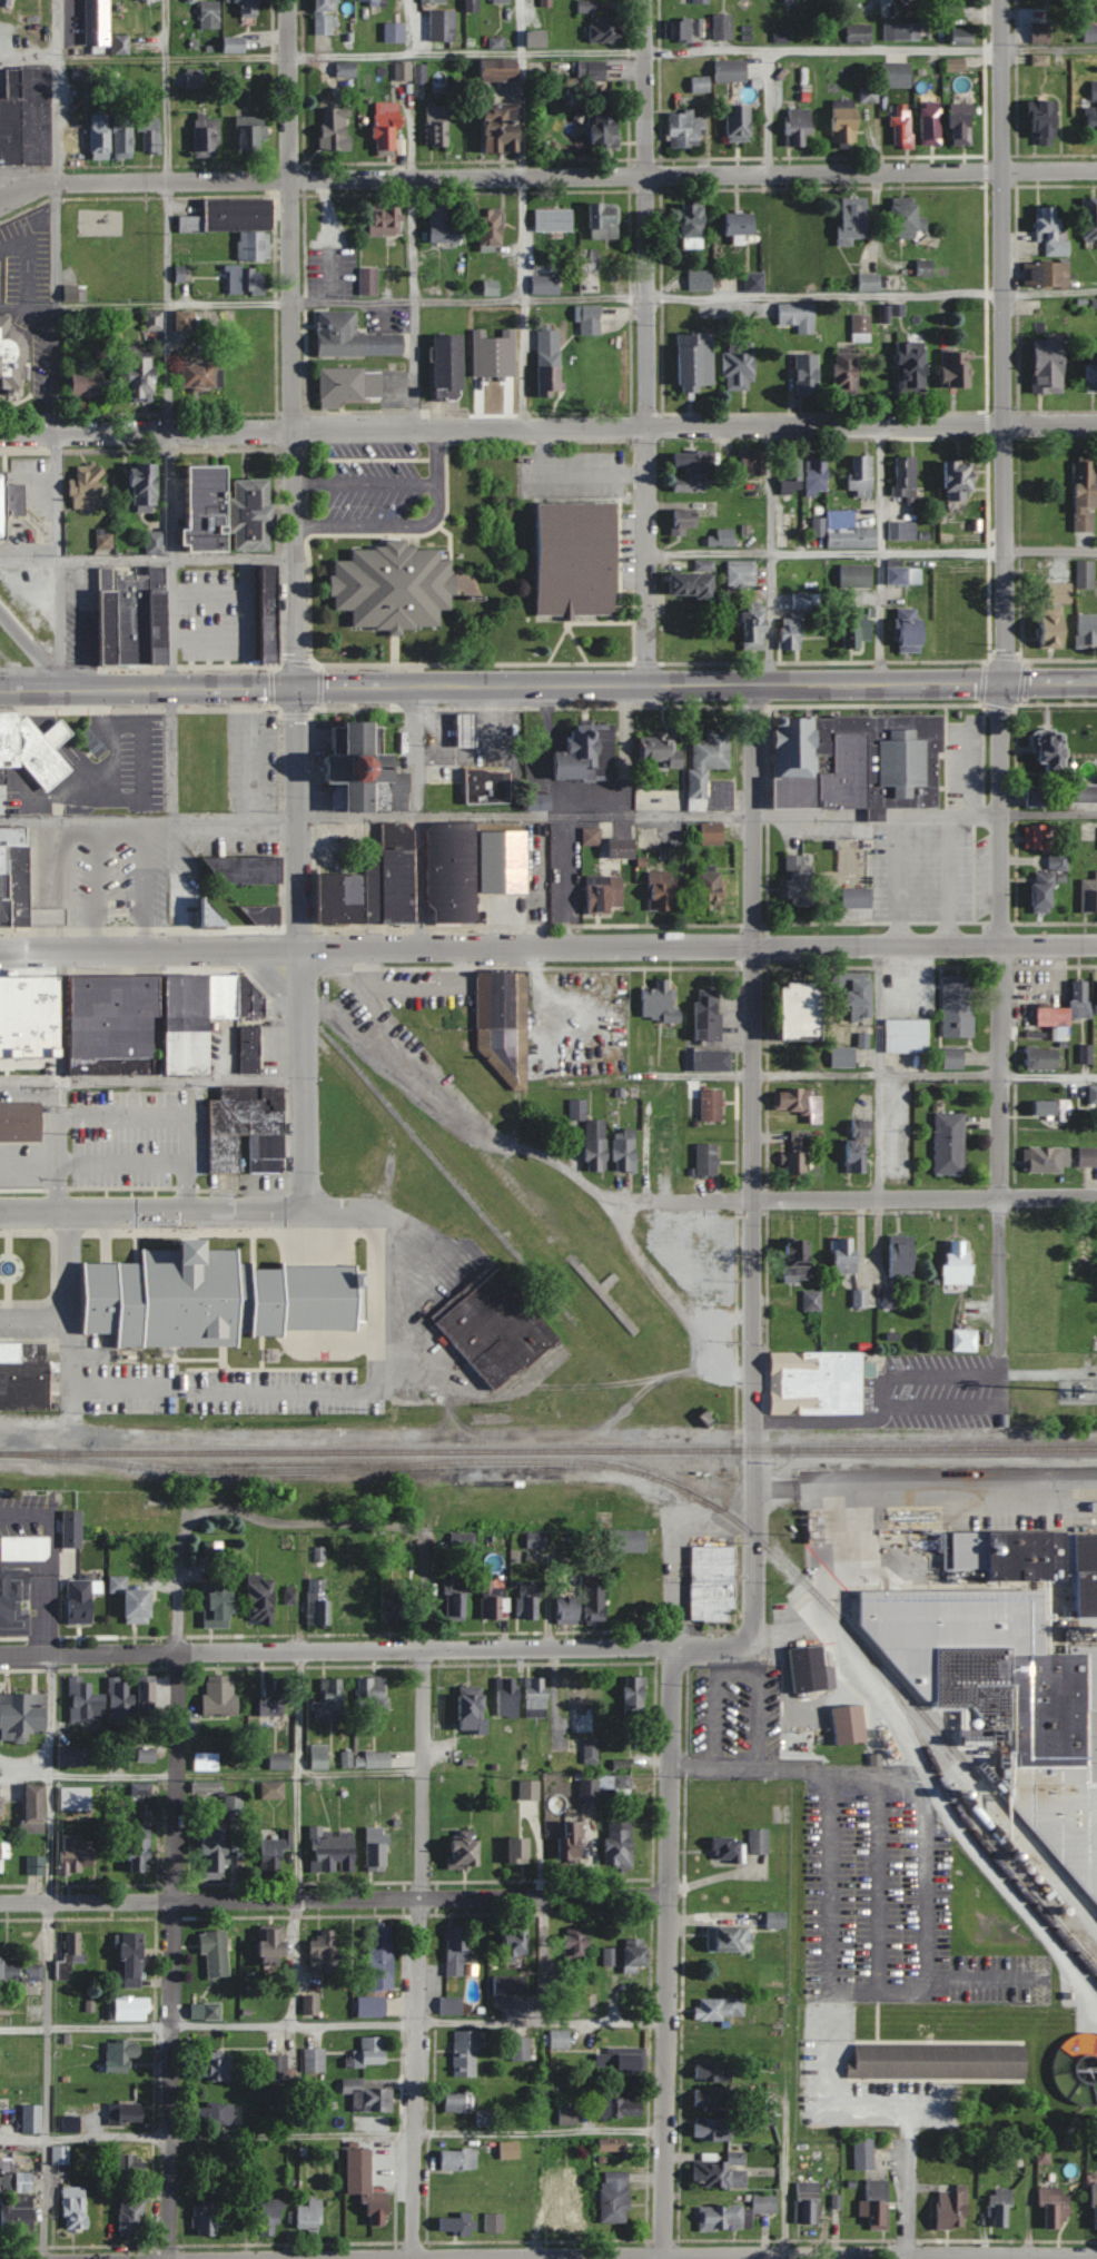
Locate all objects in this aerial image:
building: (793, 0)
building: (370, 1)
building: (434, 1)
building: (500, 1)
building: (700, 1)
building: (546, 2)
building: (473, 6)
building: (587, 6)
building: (250, 8)
building: (209, 14)
building: (326, 17)
building: (98, 23)
building: (443, 26)
building: (723, 27)
building: (688, 29)
building: (607, 30)
building: (906, 31)
building: (859, 32)
building: (1035, 33)
building: (1088, 33)
building: (963, 37)
building: (537, 38)
building: (121, 45)
building: (235, 45)
road: (548, 51)
building: (1036, 59)
building: (346, 69)
building: (501, 69)
building: (579, 69)
building: (731, 70)
building: (897, 75)
building: (196, 78)
building: (701, 85)
building: (869, 93)
road: (767, 110)
building: (1090, 114)
building: (26, 116)
building: (1036, 120)
building: (844, 122)
building: (740, 124)
building: (931, 125)
building: (437, 126)
building: (799, 126)
building: (903, 126)
building: (962, 127)
building: (336, 129)
building: (686, 129)
building: (505, 130)
building: (606, 130)
building: (388, 131)
building: (253, 134)
building: (150, 135)
building: (207, 135)
building: (100, 136)
building: (123, 137)
road: (546, 172)
road: (520, 213)
road: (167, 215)
building: (1087, 218)
building: (385, 219)
building: (554, 219)
building: (854, 219)
building: (604, 221)
building: (693, 221)
building: (908, 221)
building: (238, 225)
building: (741, 225)
building: (444, 226)
building: (493, 228)
building: (1046, 231)
building: (925, 268)
building: (591, 272)
building: (1044, 275)
building: (701, 279)
building: (369, 280)
building: (546, 280)
building: (244, 282)
building: (755, 282)
building: (870, 282)
road: (577, 298)
road: (412, 302)
building: (799, 316)
building: (590, 319)
building: (186, 320)
building: (862, 328)
building: (353, 337)
road: (649, 342)
road: (1005, 342)
road: (57, 344)
road: (291, 344)
building: (1090, 353)
building: (10, 354)
building: (696, 362)
building: (550, 364)
building: (449, 367)
building: (913, 367)
building: (1040, 367)
building: (957, 369)
building: (740, 371)
building: (848, 372)
building: (201, 375)
building: (500, 375)
building: (808, 375)
building: (1087, 378)
building: (144, 379)
building: (90, 385)
building: (350, 385)
road: (547, 426)
building: (693, 460)
building: (752, 463)
building: (792, 475)
building: (860, 475)
building: (817, 476)
building: (906, 476)
building: (692, 483)
building: (960, 483)
road: (365, 486)
building: (146, 487)
building: (89, 490)
building: (1078, 496)
building: (9, 497)
building: (229, 512)
building: (685, 521)
road: (411, 529)
building: (843, 531)
building: (902, 531)
building: (722, 537)
building: (155, 543)
road: (872, 552)
road: (880, 553)
road: (147, 555)
building: (573, 559)
building: (903, 573)
building: (742, 575)
building: (856, 575)
building: (1080, 575)
building: (695, 582)
building: (388, 585)
building: (802, 600)
building: (154, 611)
building: (267, 611)
building: (105, 614)
building: (129, 616)
road: (769, 620)
building: (755, 629)
building: (859, 630)
building: (911, 631)
building: (1083, 631)
building: (791, 632)
building: (1042, 632)
road: (31, 641)
traffic signals: (1005, 684)
road: (547, 685)
traffic signals: (299, 688)
road: (177, 689)
building: (459, 729)
gas station: (459, 729)
building: (28, 748)
building: (655, 750)
building: (580, 752)
building: (1045, 752)
building: (207, 760)
building: (857, 760)
building: (363, 767)
building: (694, 773)
building: (2, 775)
building: (482, 787)
building: (1081, 792)
building: (1028, 795)
road: (1050, 811)
road: (376, 813)
road: (417, 817)
road: (878, 826)
building: (708, 832)
building: (11, 836)
building: (591, 839)
building: (1041, 845)
building: (614, 847)
building: (4, 861)
building: (245, 865)
building: (464, 867)
building: (389, 875)
building: (793, 879)
building: (6, 886)
building: (704, 888)
building: (655, 890)
building: (28, 891)
building: (1035, 891)
building: (1086, 892)
building: (597, 894)
building: (339, 897)
building: (852, 897)
building: (261, 911)
building: (7, 913)
building: (206, 916)
road: (547, 946)
road: (302, 949)
building: (849, 994)
building: (220, 995)
building: (247, 997)
building: (654, 1002)
building: (953, 1005)
building: (789, 1009)
building: (1064, 1010)
building: (27, 1013)
building: (702, 1014)
road: (1002, 1017)
building: (184, 1022)
building: (502, 1022)
building: (110, 1024)
building: (901, 1035)
building: (249, 1047)
building: (948, 1056)
building: (839, 1057)
building: (1037, 1057)
building: (705, 1059)
building: (28, 1061)
road: (690, 1072)
road: (925, 1073)
road: (151, 1079)
building: (797, 1102)
building: (706, 1104)
building: (1046, 1108)
building: (20, 1119)
building: (246, 1125)
building: (659, 1136)
building: (945, 1142)
building: (591, 1144)
building: (852, 1146)
building: (619, 1153)
building: (791, 1153)
building: (1085, 1155)
building: (701, 1157)
building: (1041, 1158)
road: (752, 1165)
road: (861, 1197)
road: (196, 1211)
building: (694, 1255)
building: (838, 1255)
building: (896, 1255)
building: (1077, 1257)
building: (791, 1259)
building: (952, 1262)
building: (214, 1295)
road: (65, 1300)
building: (808, 1300)
building: (493, 1323)
building: (960, 1340)
road: (1047, 1373)
building: (23, 1375)
building: (810, 1382)
road: (882, 1389)
road: (81, 1392)
road: (375, 1393)
road: (955, 1403)
railway: (548, 1450)
railway: (456, 1460)
road: (307, 1527)
building: (463, 1539)
building: (536, 1539)
building: (629, 1539)
building: (26, 1548)
building: (211, 1550)
building: (713, 1581)
building: (454, 1598)
building: (80, 1599)
building: (135, 1599)
building: (261, 1600)
building: (318, 1600)
building: (528, 1600)
building: (14, 1601)
building: (596, 1604)
building: (220, 1605)
building: (494, 1605)
building: (570, 1608)
building: (393, 1609)
building: (344, 1611)
road: (713, 1646)
road: (337, 1650)
building: (806, 1669)
building: (1012, 1669)
road: (735, 1677)
building: (373, 1693)
building: (635, 1695)
building: (536, 1696)
building: (508, 1697)
building: (219, 1698)
building: (330, 1698)
building: (147, 1699)
building: (278, 1699)
building: (86, 1700)
building: (119, 1700)
building: (582, 1705)
building: (473, 1713)
building: (22, 1715)
road: (425, 1718)
building: (842, 1724)
building: (592, 1750)
building: (147, 1754)
building: (72, 1755)
building: (319, 1756)
building: (369, 1759)
building: (280, 1760)
building: (207, 1762)
railway: (961, 1764)
road: (213, 1774)
building: (616, 1783)
building: (206, 1786)
building: (141, 1788)
building: (273, 1789)
building: (530, 1789)
building: (77, 1798)
building: (0, 1807)
building: (36, 1807)
road: (296, 1838)
building: (224, 1839)
building: (759, 1841)
building: (573, 1842)
building: (620, 1844)
building: (378, 1848)
building: (727, 1848)
building: (521, 1849)
building: (333, 1851)
building: (465, 1851)
building: (275, 1852)
building: (78, 1854)
building: (139, 1854)
building: (3, 1857)
building: (37, 1865)
road: (177, 1888)
road: (335, 1898)
road: (669, 1902)
building: (775, 1918)
road: (922, 1922)
building: (729, 1937)
building: (516, 1942)
building: (275, 1945)
building: (577, 1946)
building: (457, 1950)
building: (216, 1952)
building: (324, 1952)
building: (611, 1955)
road: (47, 1956)
building: (382, 1956)
building: (638, 1956)
building: (70, 1957)
building: (134, 1959)
building: (17, 1972)
building: (510, 1983)
building: (310, 2004)
building: (452, 2004)
building: (372, 2005)
building: (721, 2006)
building: (131, 2008)
road: (333, 2025)
building: (560, 2038)
building: (709, 2041)
building: (522, 2048)
building: (370, 2051)
building: (121, 2053)
building: (466, 2053)
building: (621, 2059)
building: (315, 2060)
building: (933, 2061)
building: (217, 2064)
building: (1076, 2068)
building: (713, 2071)
road: (414, 2078)
building: (368, 2097)
building: (714, 2099)
building: (459, 2101)
building: (620, 2107)
building: (215, 2112)
building: (126, 2113)
building: (485, 2118)
building: (32, 2119)
building: (712, 2128)
road: (332, 2132)
building: (612, 2144)
building: (510, 2150)
building: (859, 2153)
building: (60, 2154)
building: (459, 2159)
building: (359, 2162)
building: (125, 2163)
building: (721, 2170)
road: (783, 2179)
building: (547, 2184)
building: (615, 2197)
road: (903, 2199)
building: (804, 2202)
building: (872, 2203)
building: (946, 2206)
building: (76, 2207)
building: (377, 2207)
building: (1048, 2207)
building: (1091, 2207)
building: (996, 2208)
building: (572, 2210)
building: (132, 2212)
building: (18, 2213)
building: (733, 2213)
building: (310, 2216)
building: (271, 2217)
building: (208, 2218)
building: (494, 2222)
building: (457, 2223)
road: (694, 2253)
road: (1027, 2257)

